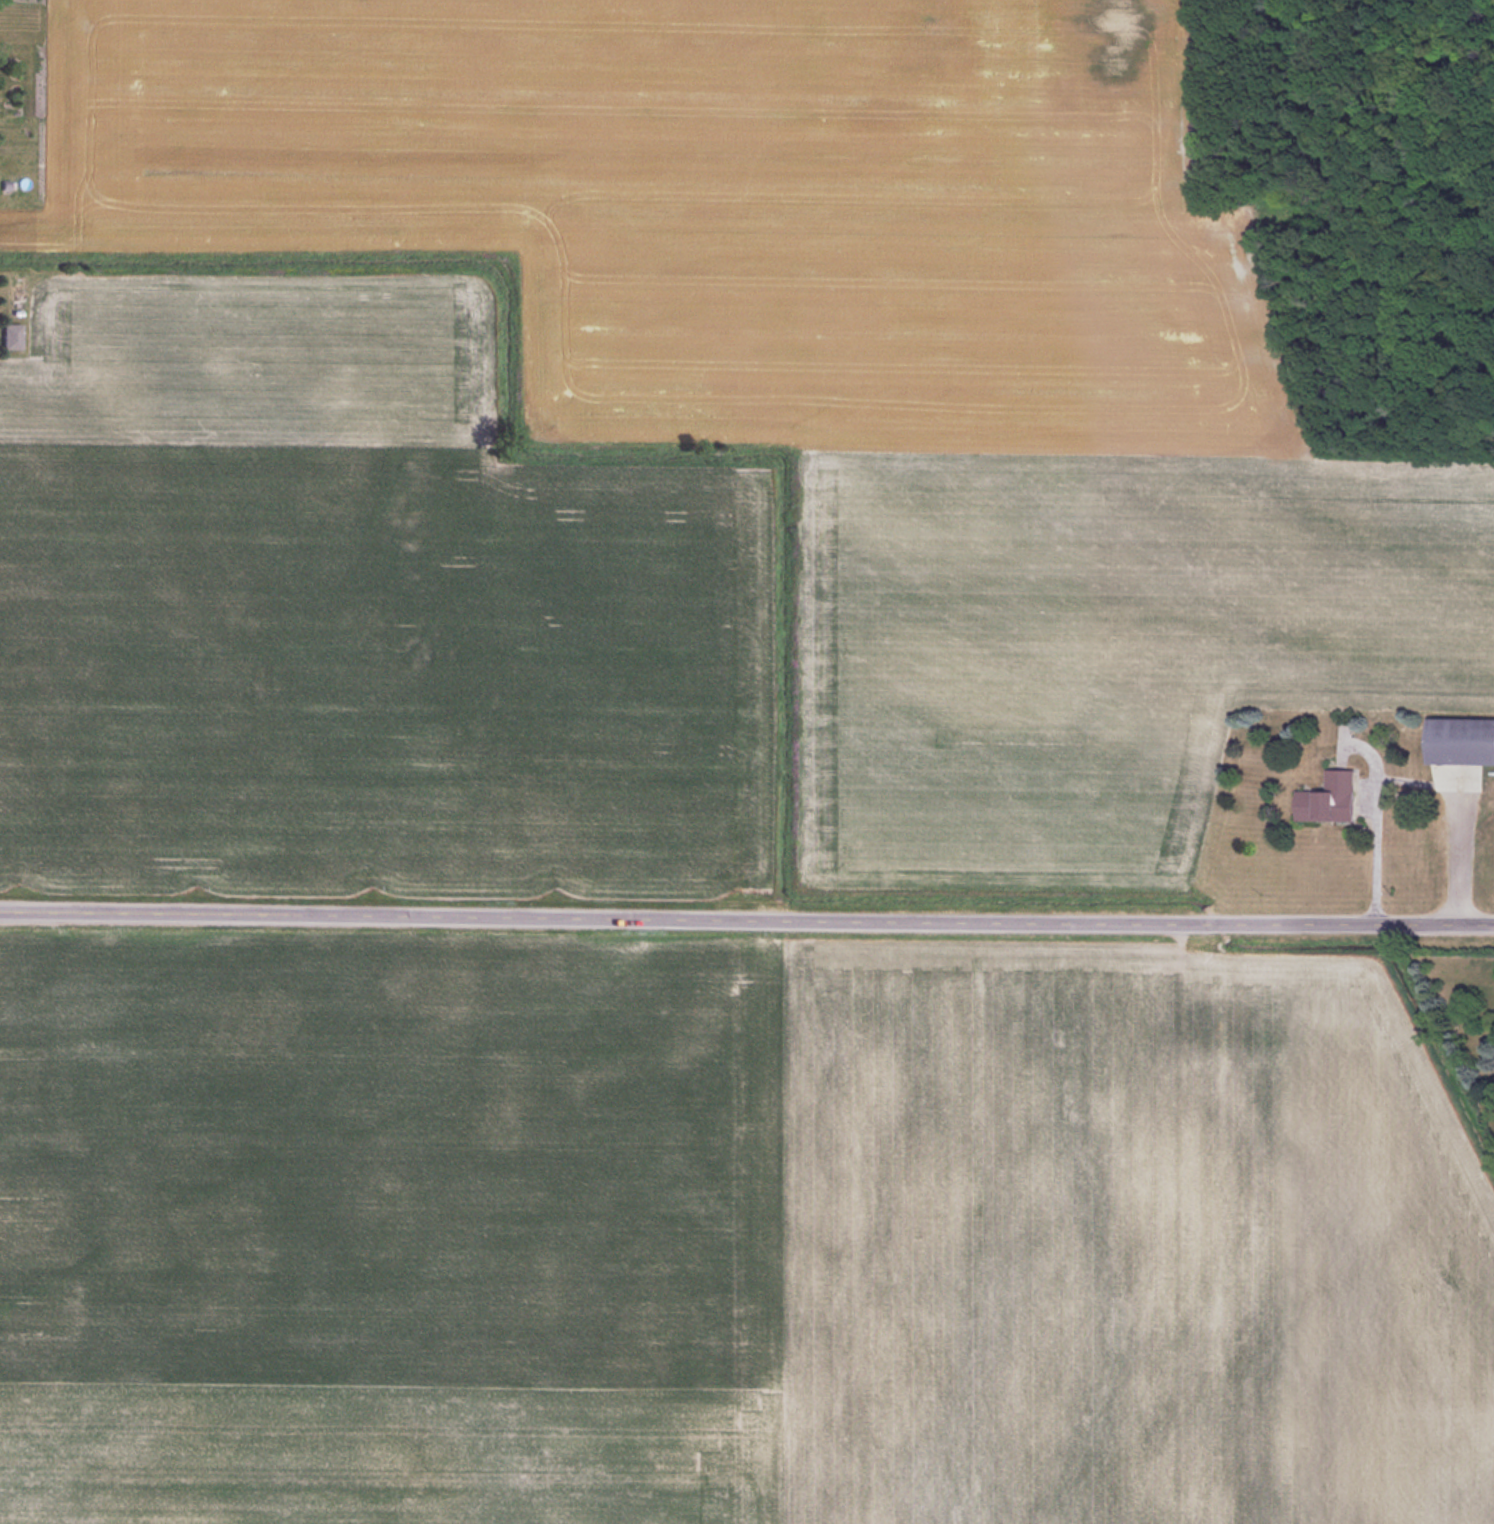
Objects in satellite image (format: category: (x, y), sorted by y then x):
building: (12, 336)
building: (1463, 741)
road: (1414, 778)
building: (1332, 798)
road: (746, 920)

